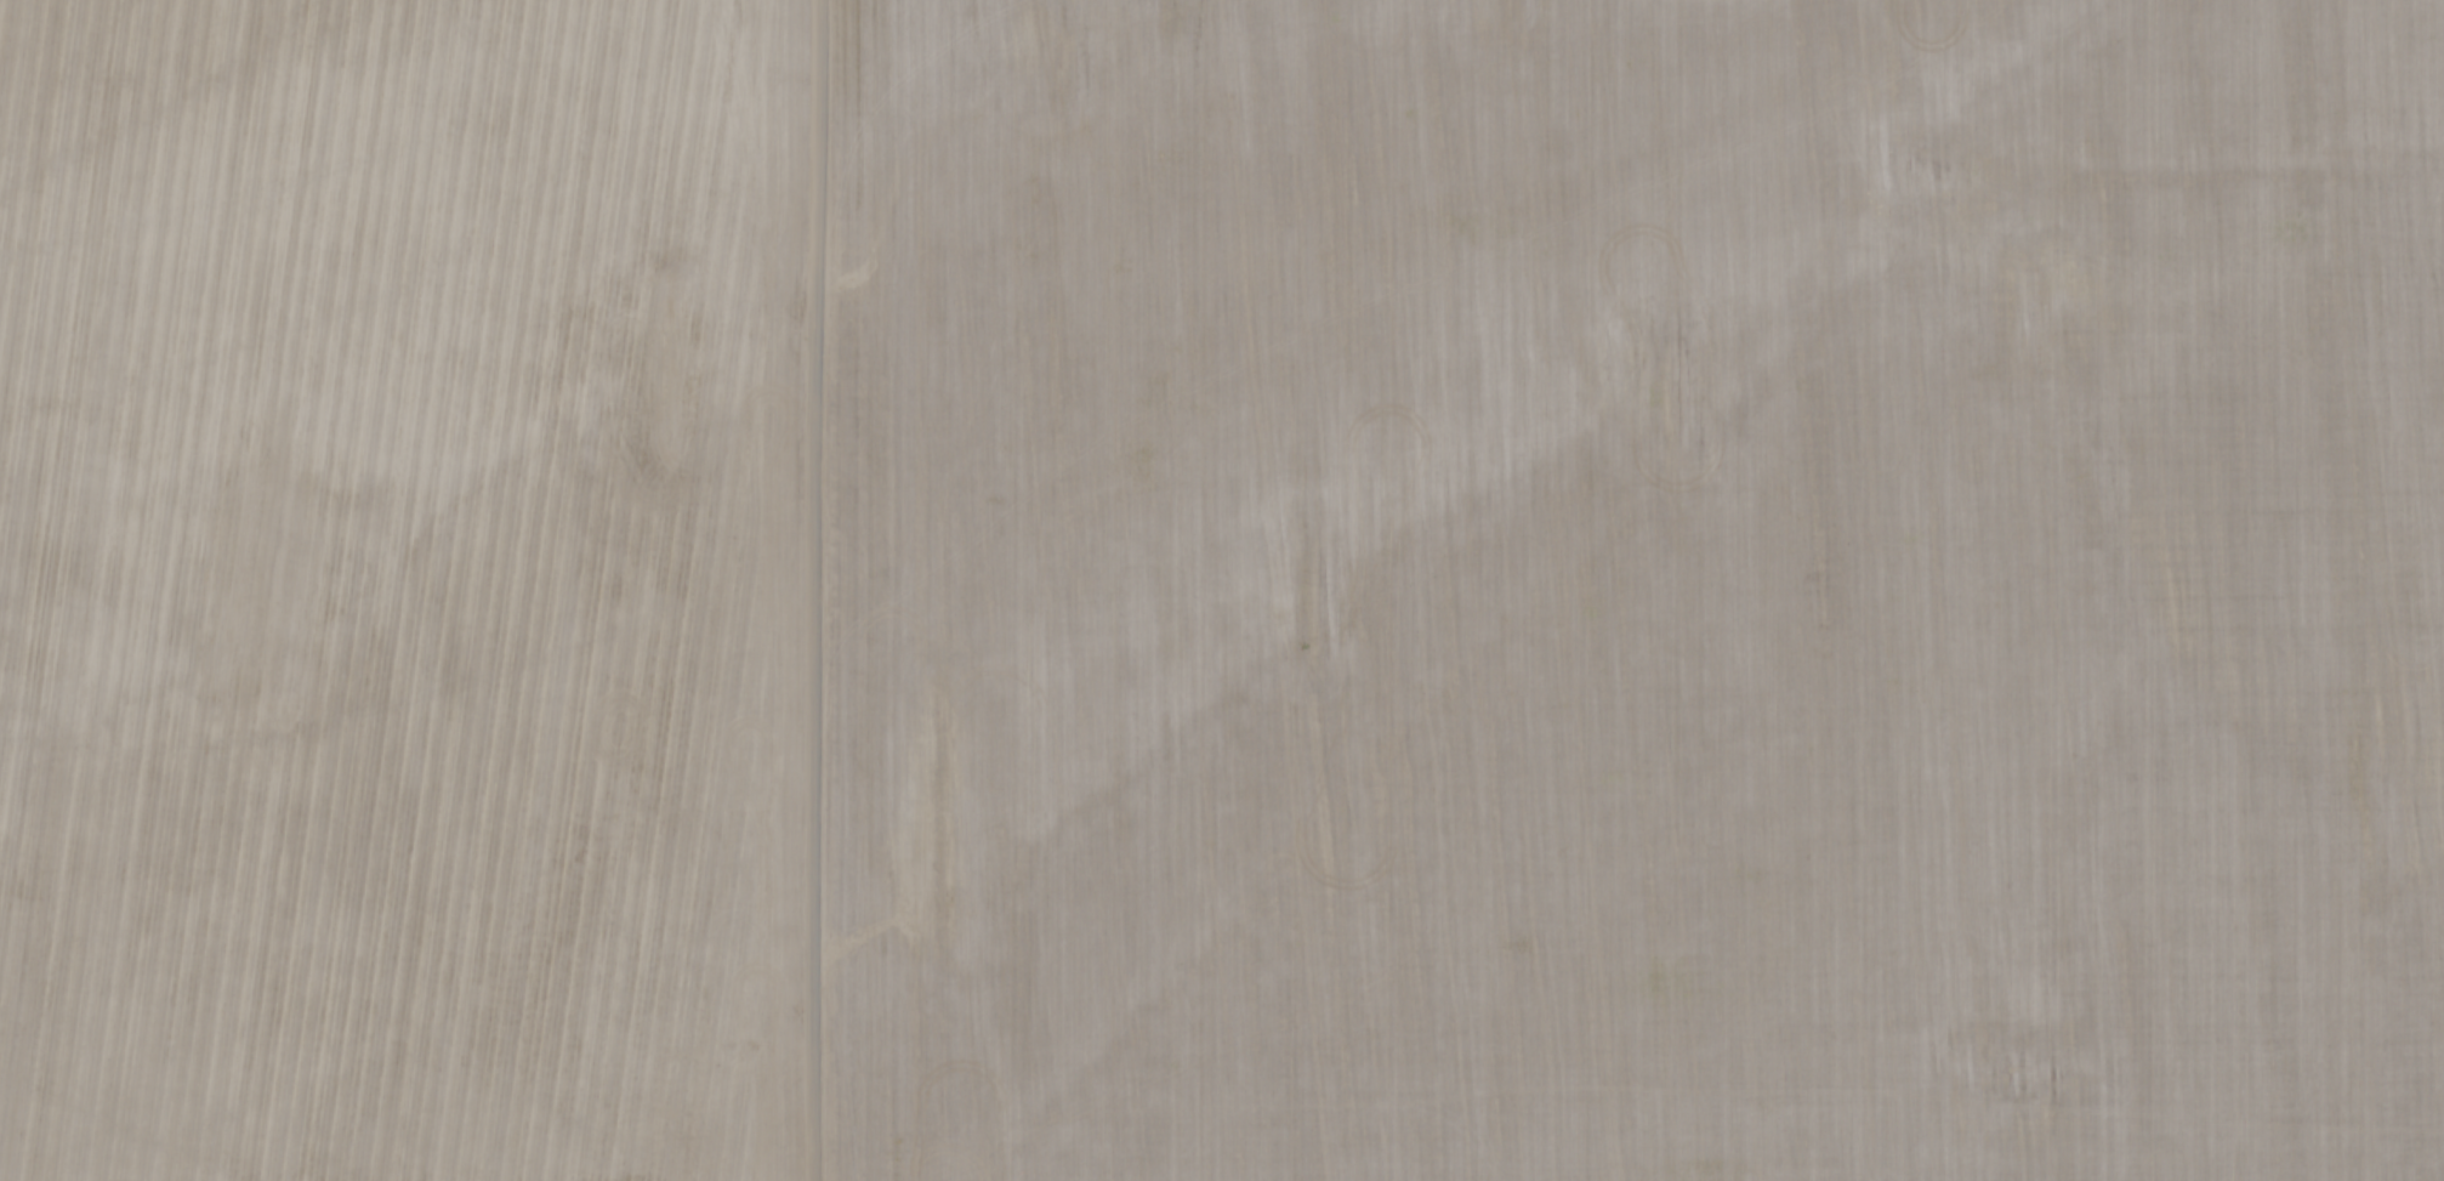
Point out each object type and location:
road: (808, 590)

